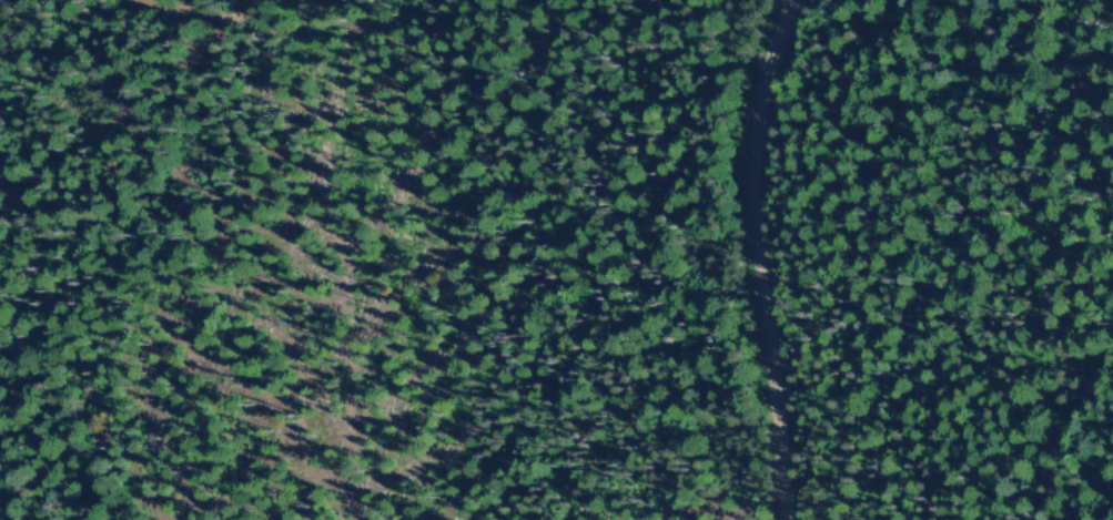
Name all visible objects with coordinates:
road: (166, 2)
road: (222, 11)
road: (119, 111)
road: (766, 257)

